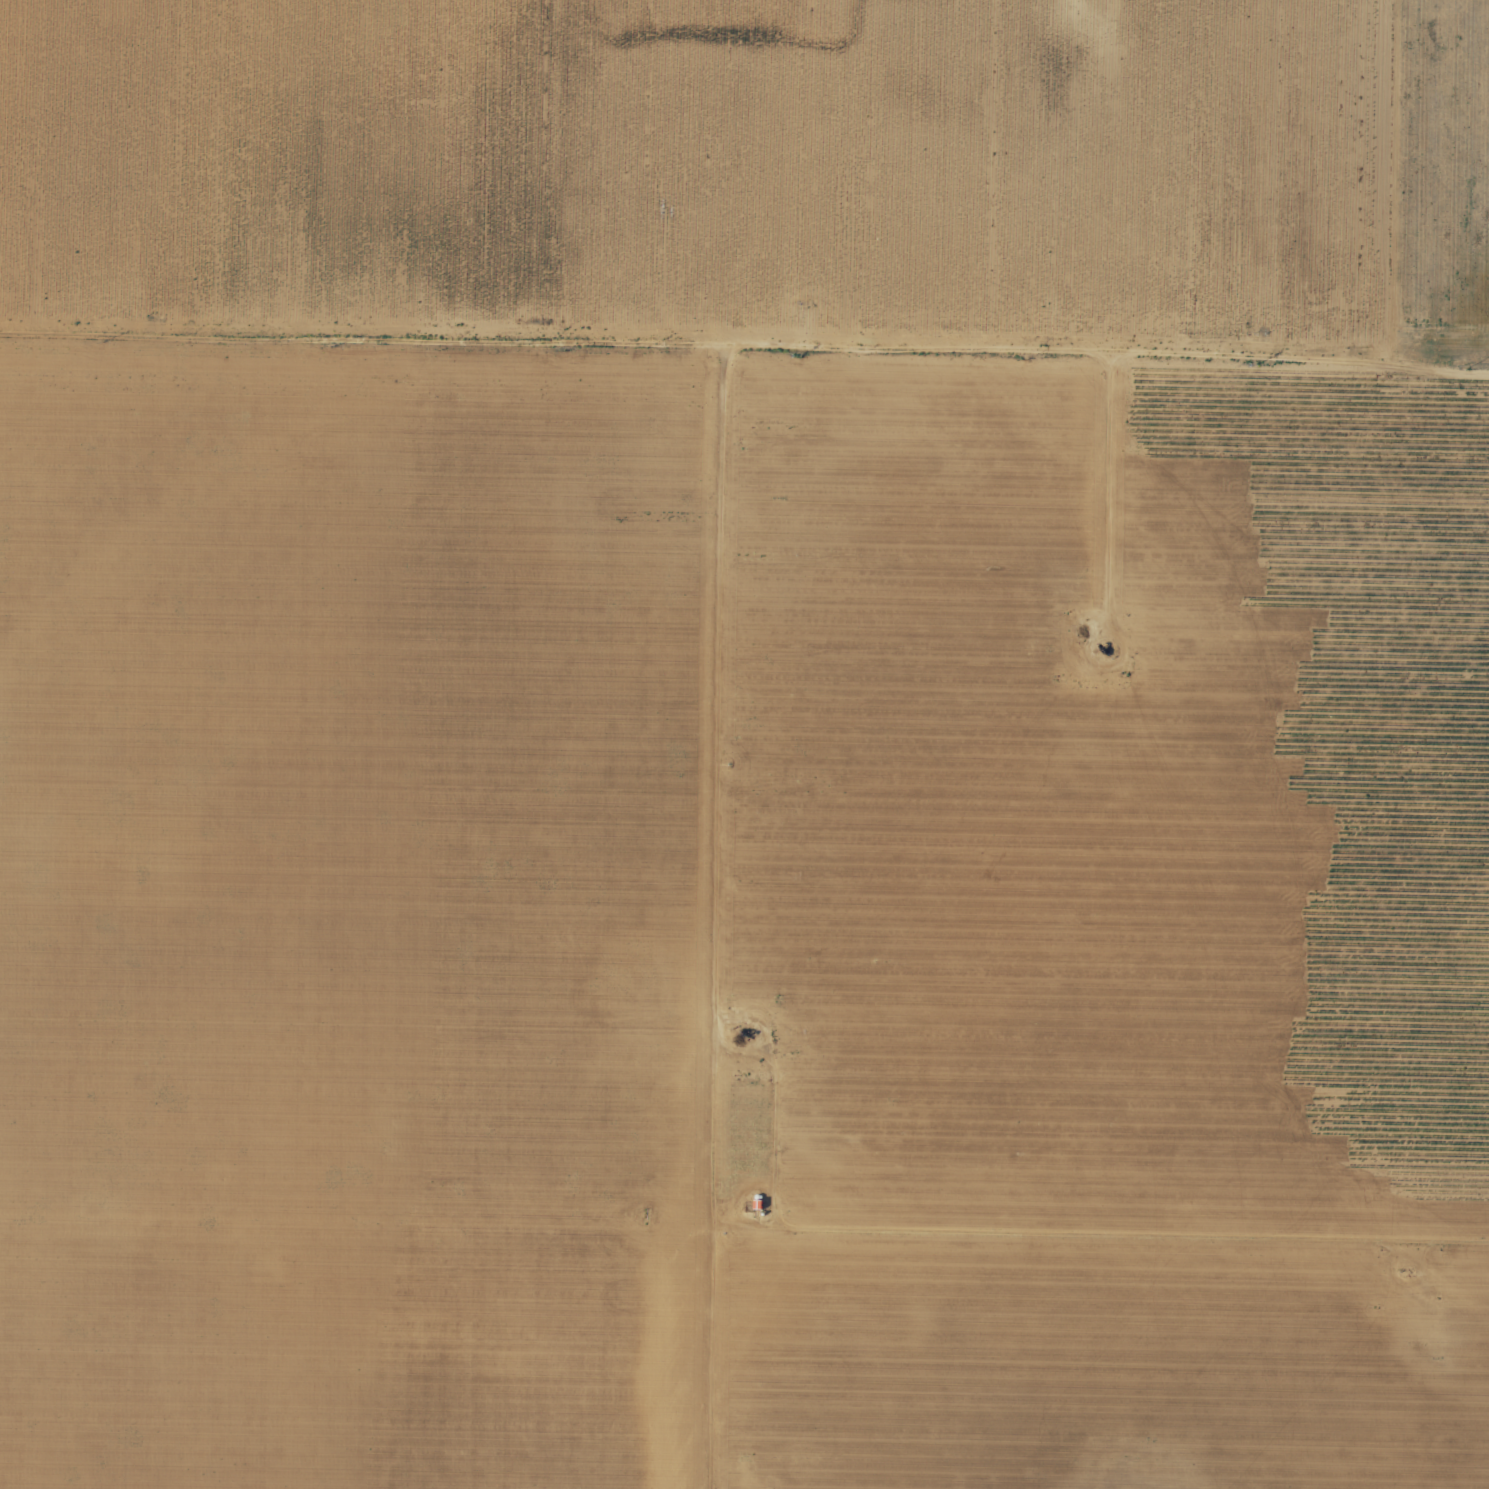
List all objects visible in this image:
road: (744, 372)

